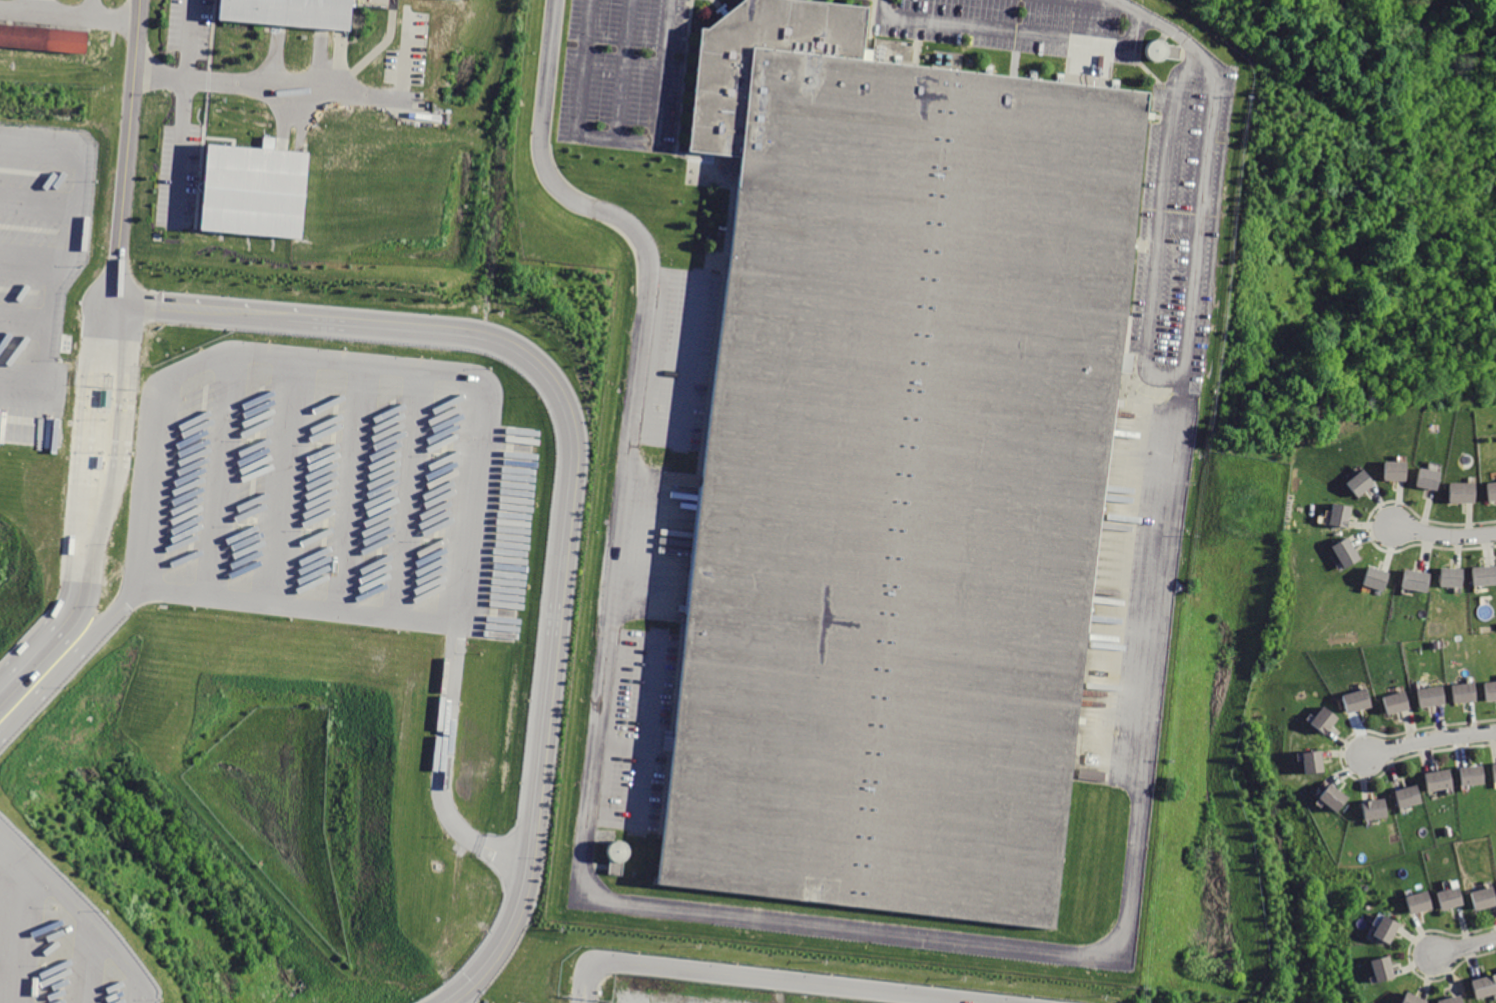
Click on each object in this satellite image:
building: (289, 12)
road: (50, 13)
road: (112, 13)
building: (43, 37)
building: (1160, 50)
road: (405, 55)
water tower: (1154, 55)
road: (275, 85)
road: (182, 111)
road: (127, 151)
building: (254, 190)
road: (36, 196)
road: (68, 247)
road: (31, 256)
road: (207, 309)
road: (22, 318)
road: (182, 370)
building: (1396, 470)
road: (221, 473)
building: (896, 473)
building: (1430, 477)
road: (285, 479)
building: (1361, 483)
road: (350, 486)
building: (1492, 490)
building: (1464, 491)
road: (409, 492)
road: (90, 510)
building: (1342, 515)
road: (1447, 536)
building: (1348, 552)
road: (567, 568)
building: (1485, 575)
building: (1453, 576)
building: (1378, 577)
building: (1418, 579)
road: (72, 659)
building: (1490, 690)
building: (1467, 692)
building: (1434, 696)
building: (1359, 701)
building: (1400, 702)
building: (1327, 720)
road: (1431, 739)
road: (441, 743)
building: (1317, 761)
building: (1495, 766)
road: (640, 767)
building: (1474, 775)
building: (1441, 779)
building: (1335, 796)
building: (1410, 796)
building: (1376, 808)
road: (11, 849)
road: (507, 856)
water tower: (616, 861)
building: (1485, 896)
building: (1453, 897)
building: (1420, 901)
road: (90, 926)
building: (1389, 929)
road: (16, 931)
road: (880, 935)
road: (7, 942)
road: (1467, 948)
road: (88, 965)
building: (1385, 968)
road: (768, 977)
building: (1485, 986)
building: (1415, 998)
road: (585, 999)
building: (1453, 1000)
road: (972, 1001)
road: (988, 1001)

